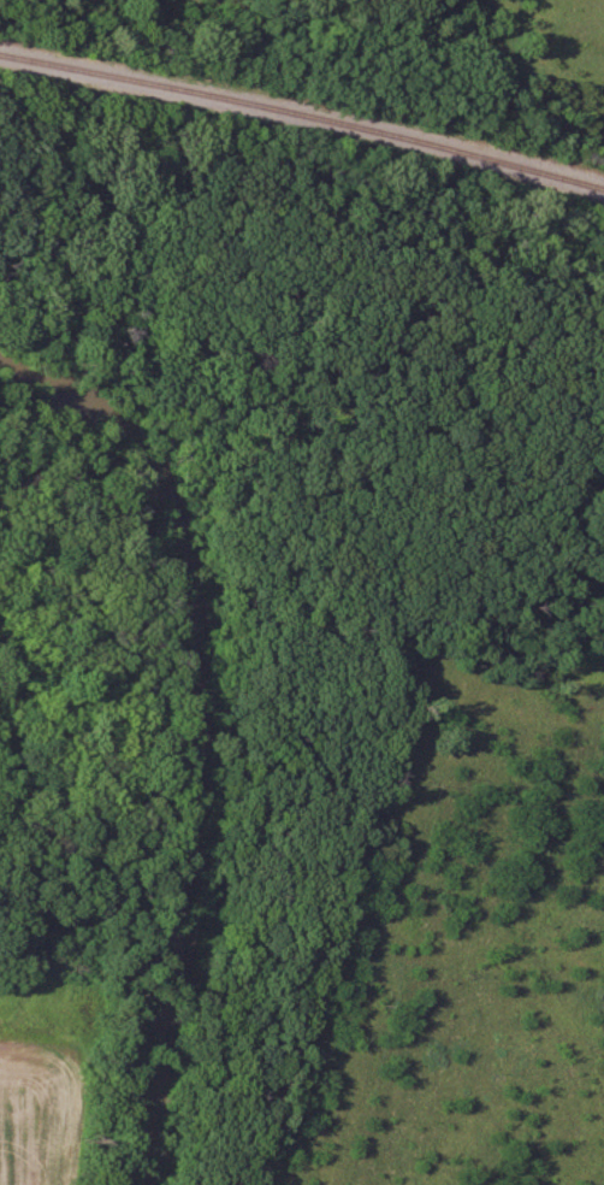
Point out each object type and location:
railway: (302, 116)
river: (212, 704)

